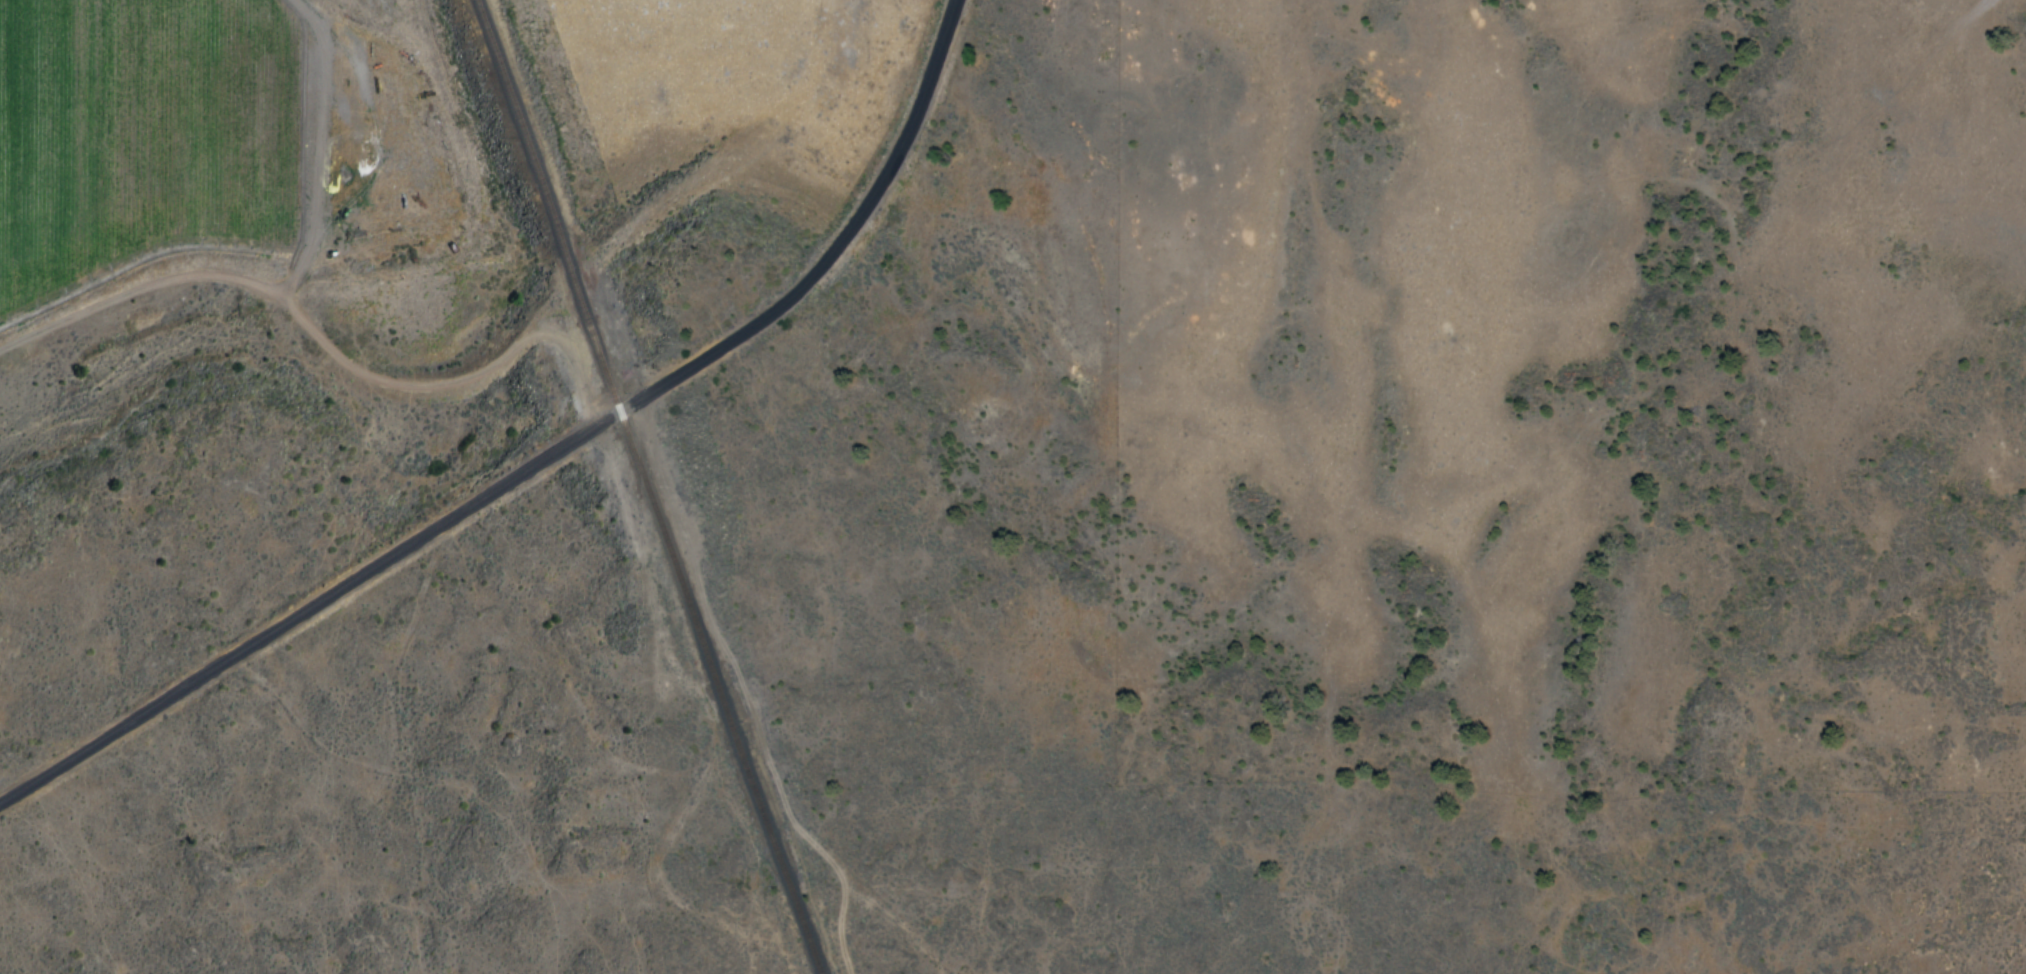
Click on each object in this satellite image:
crop: (142, 138)
road: (325, 341)
road: (543, 461)
railway: (645, 486)
road: (743, 692)

